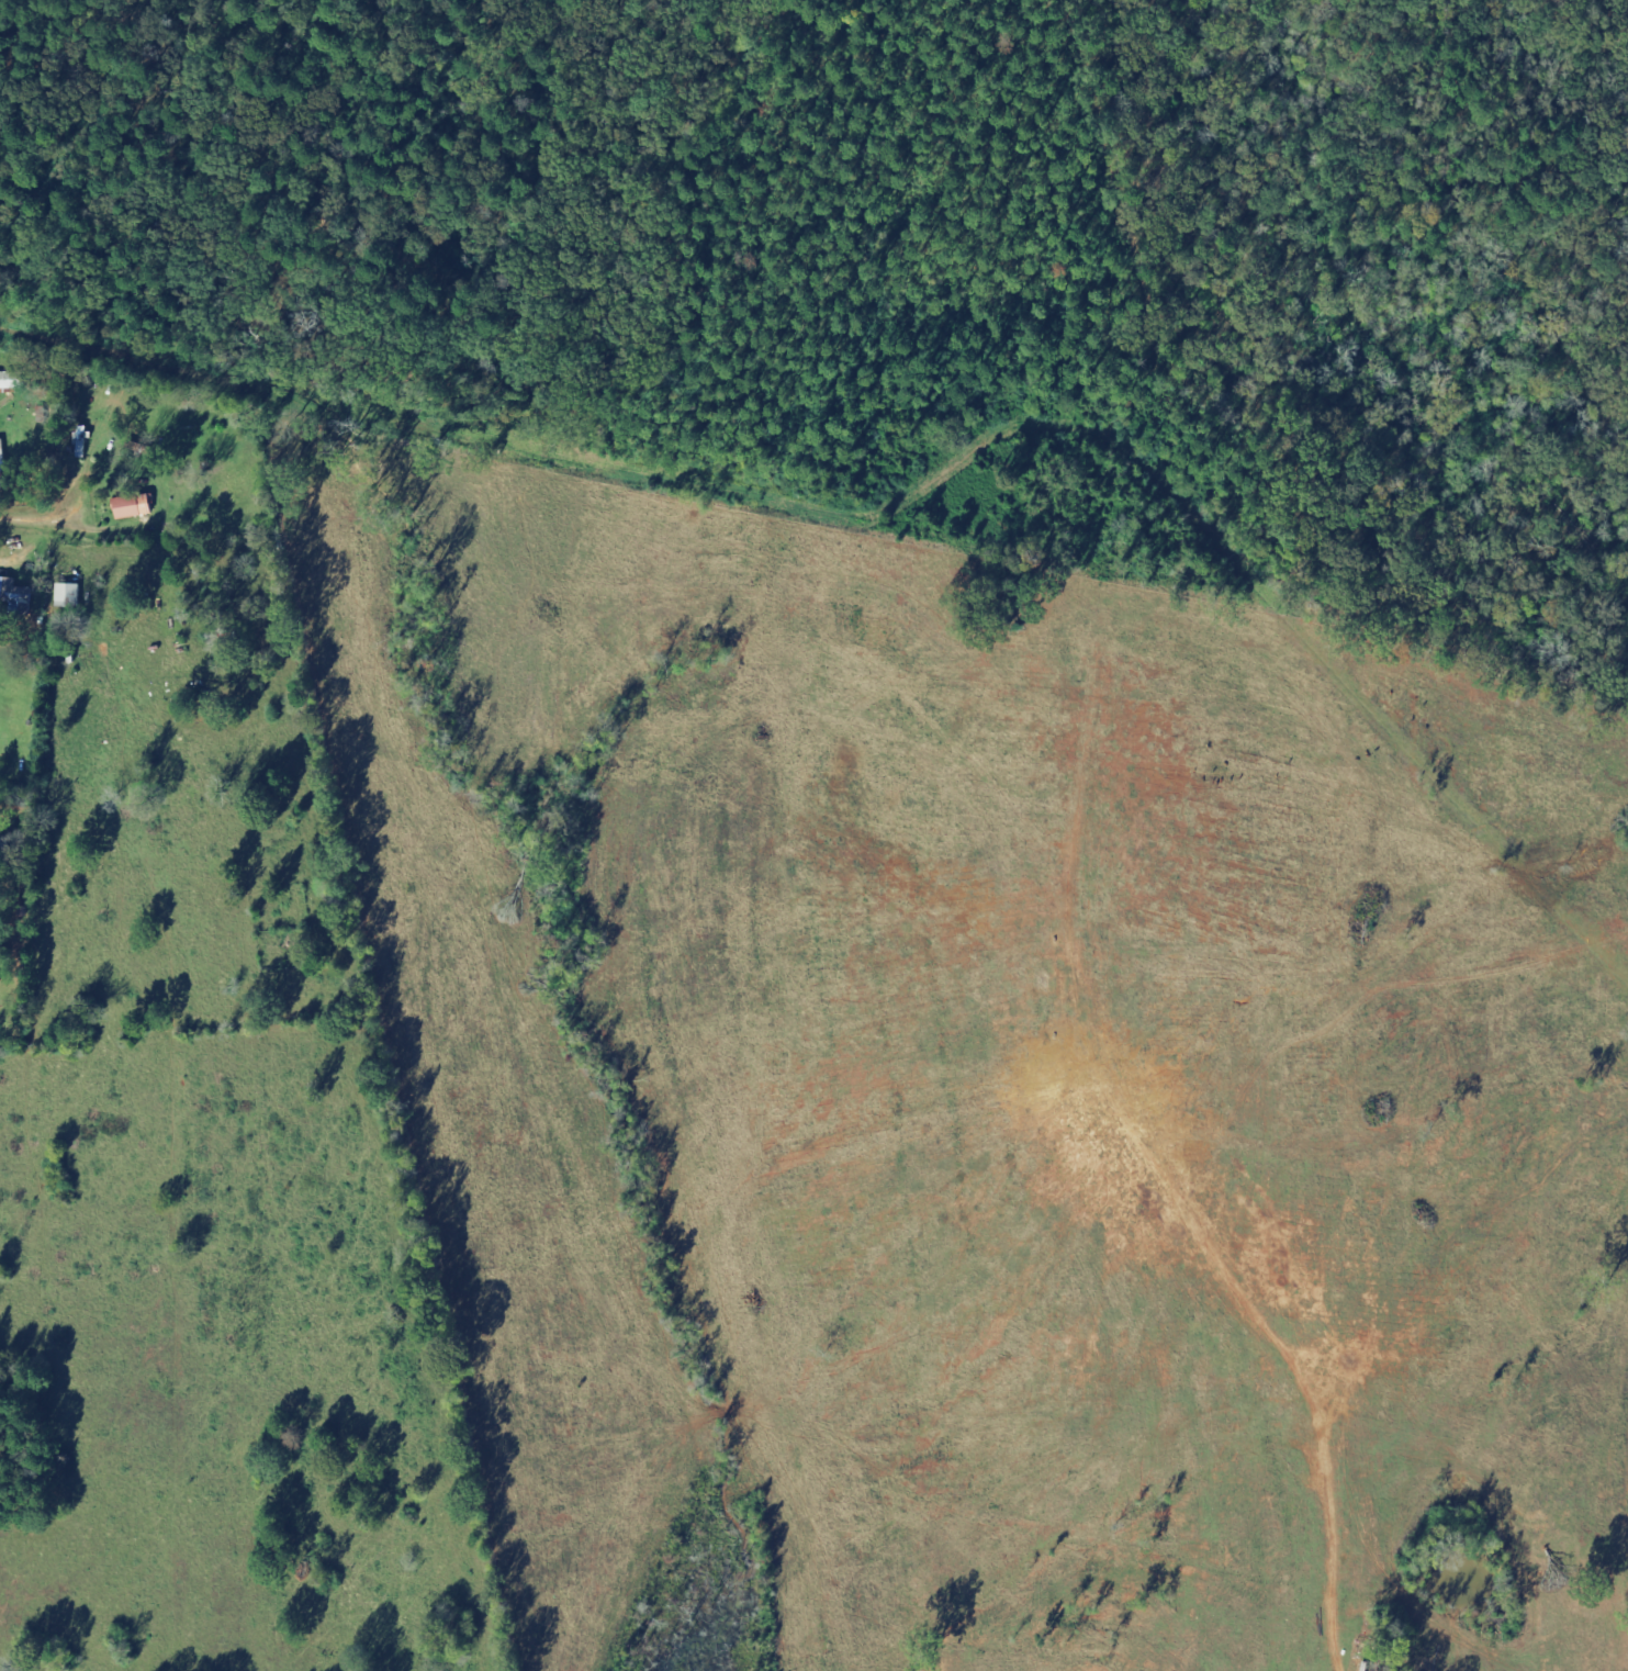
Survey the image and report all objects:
building: (12, 381)
building: (68, 596)
building: (15, 597)
road: (346, 676)
building: (0, 941)

